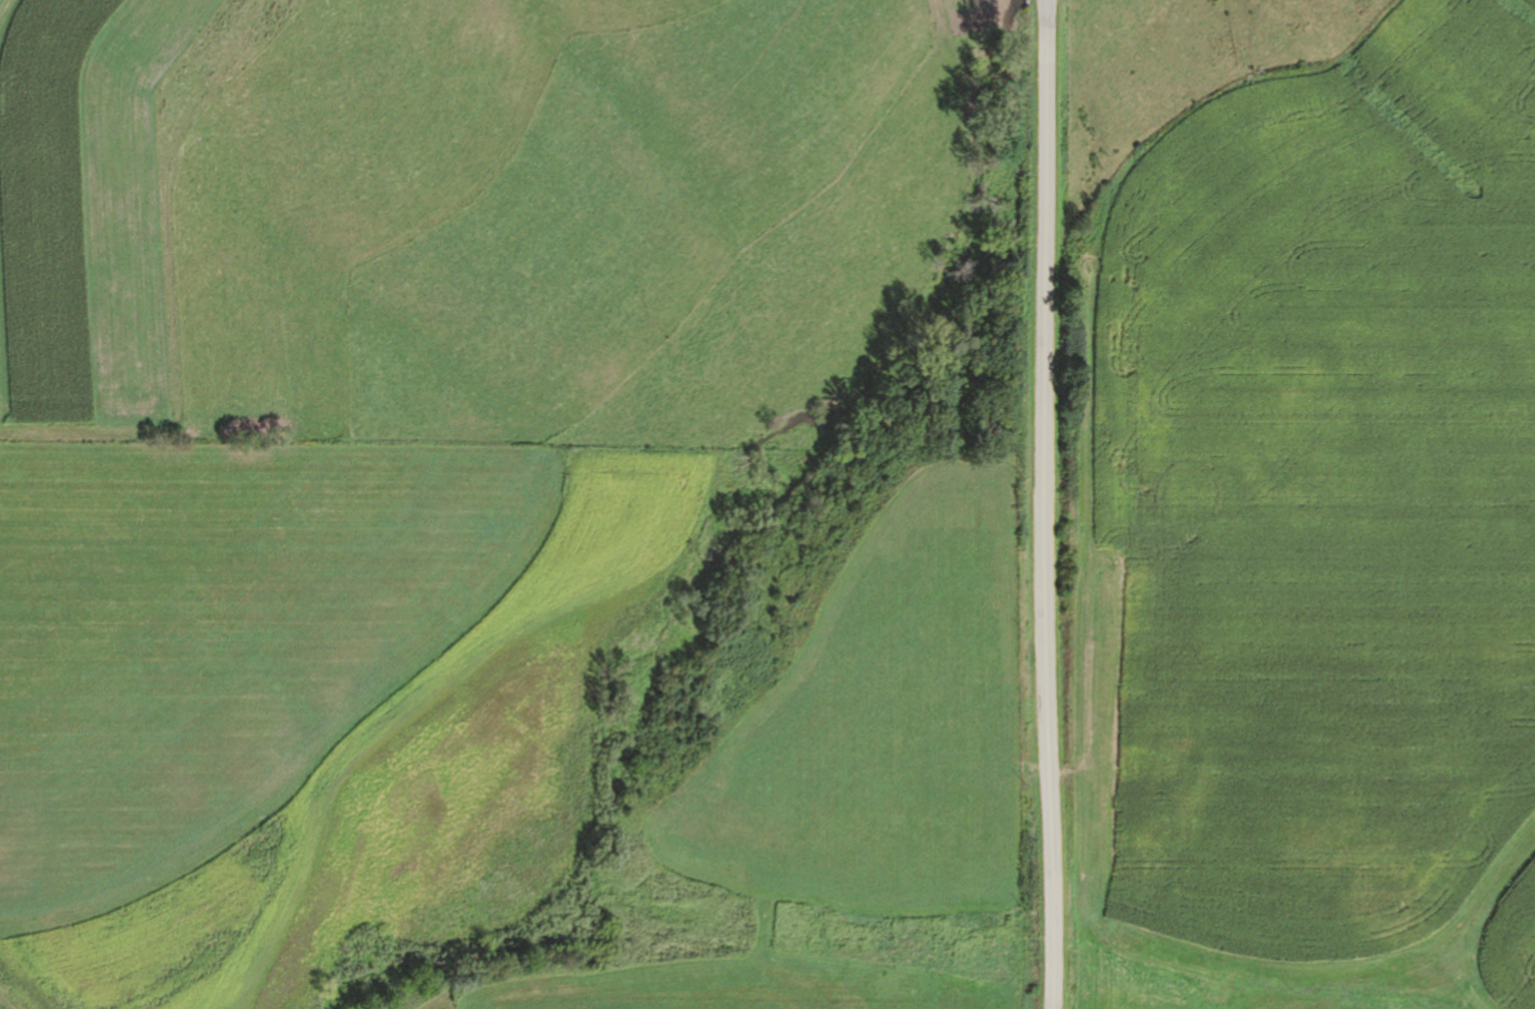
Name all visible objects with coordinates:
road: (1051, 504)
building: (1523, 523)

